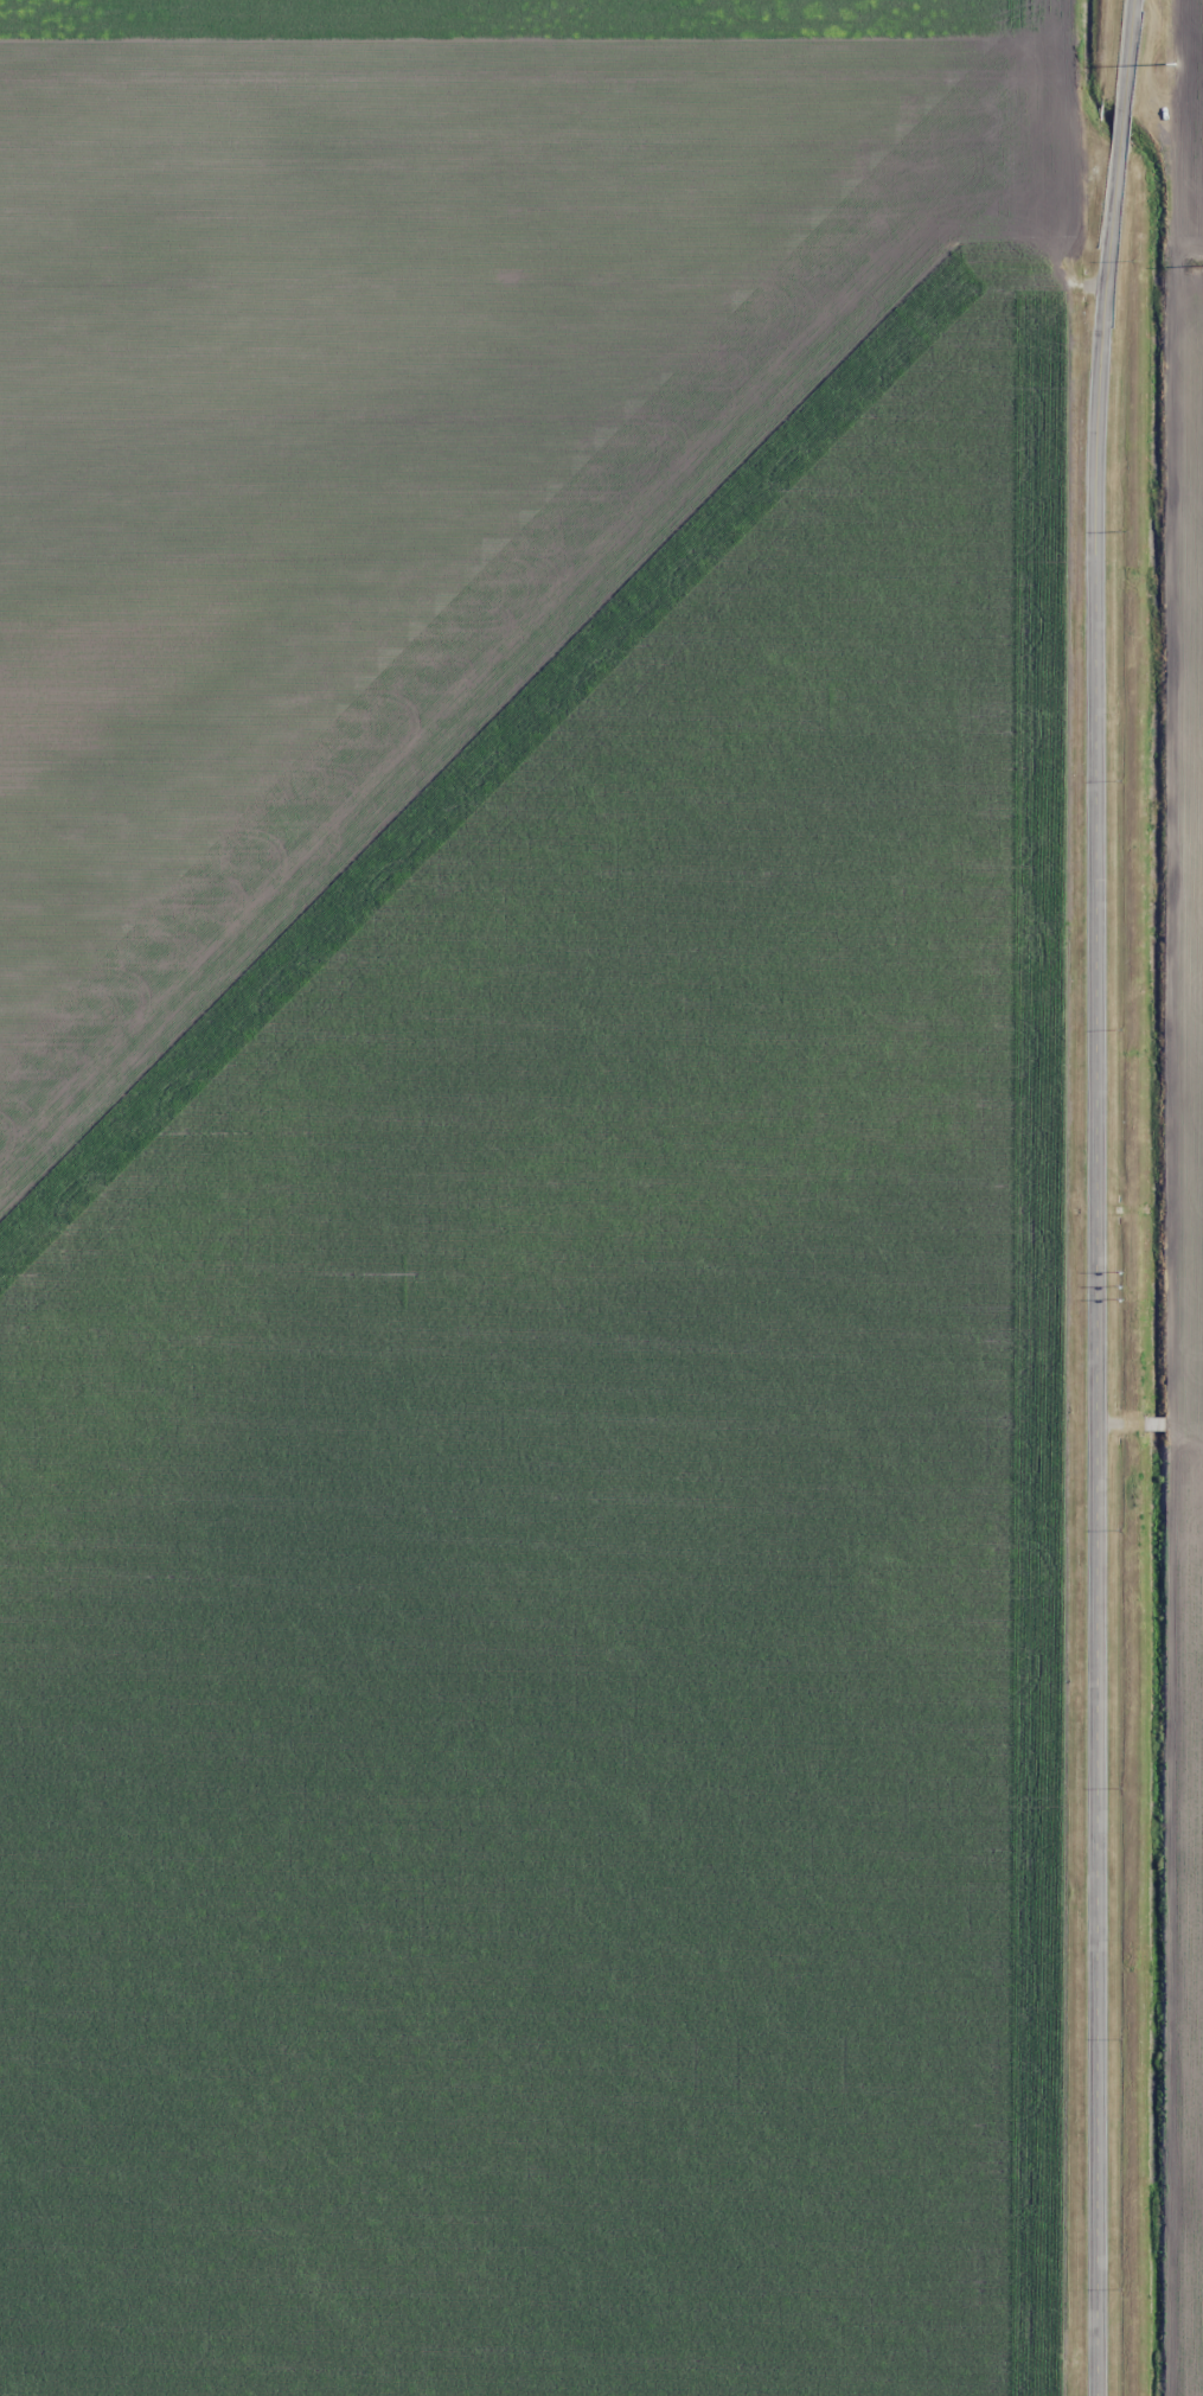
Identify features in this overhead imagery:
power tower: (1177, 58)
road: (1099, 1196)

